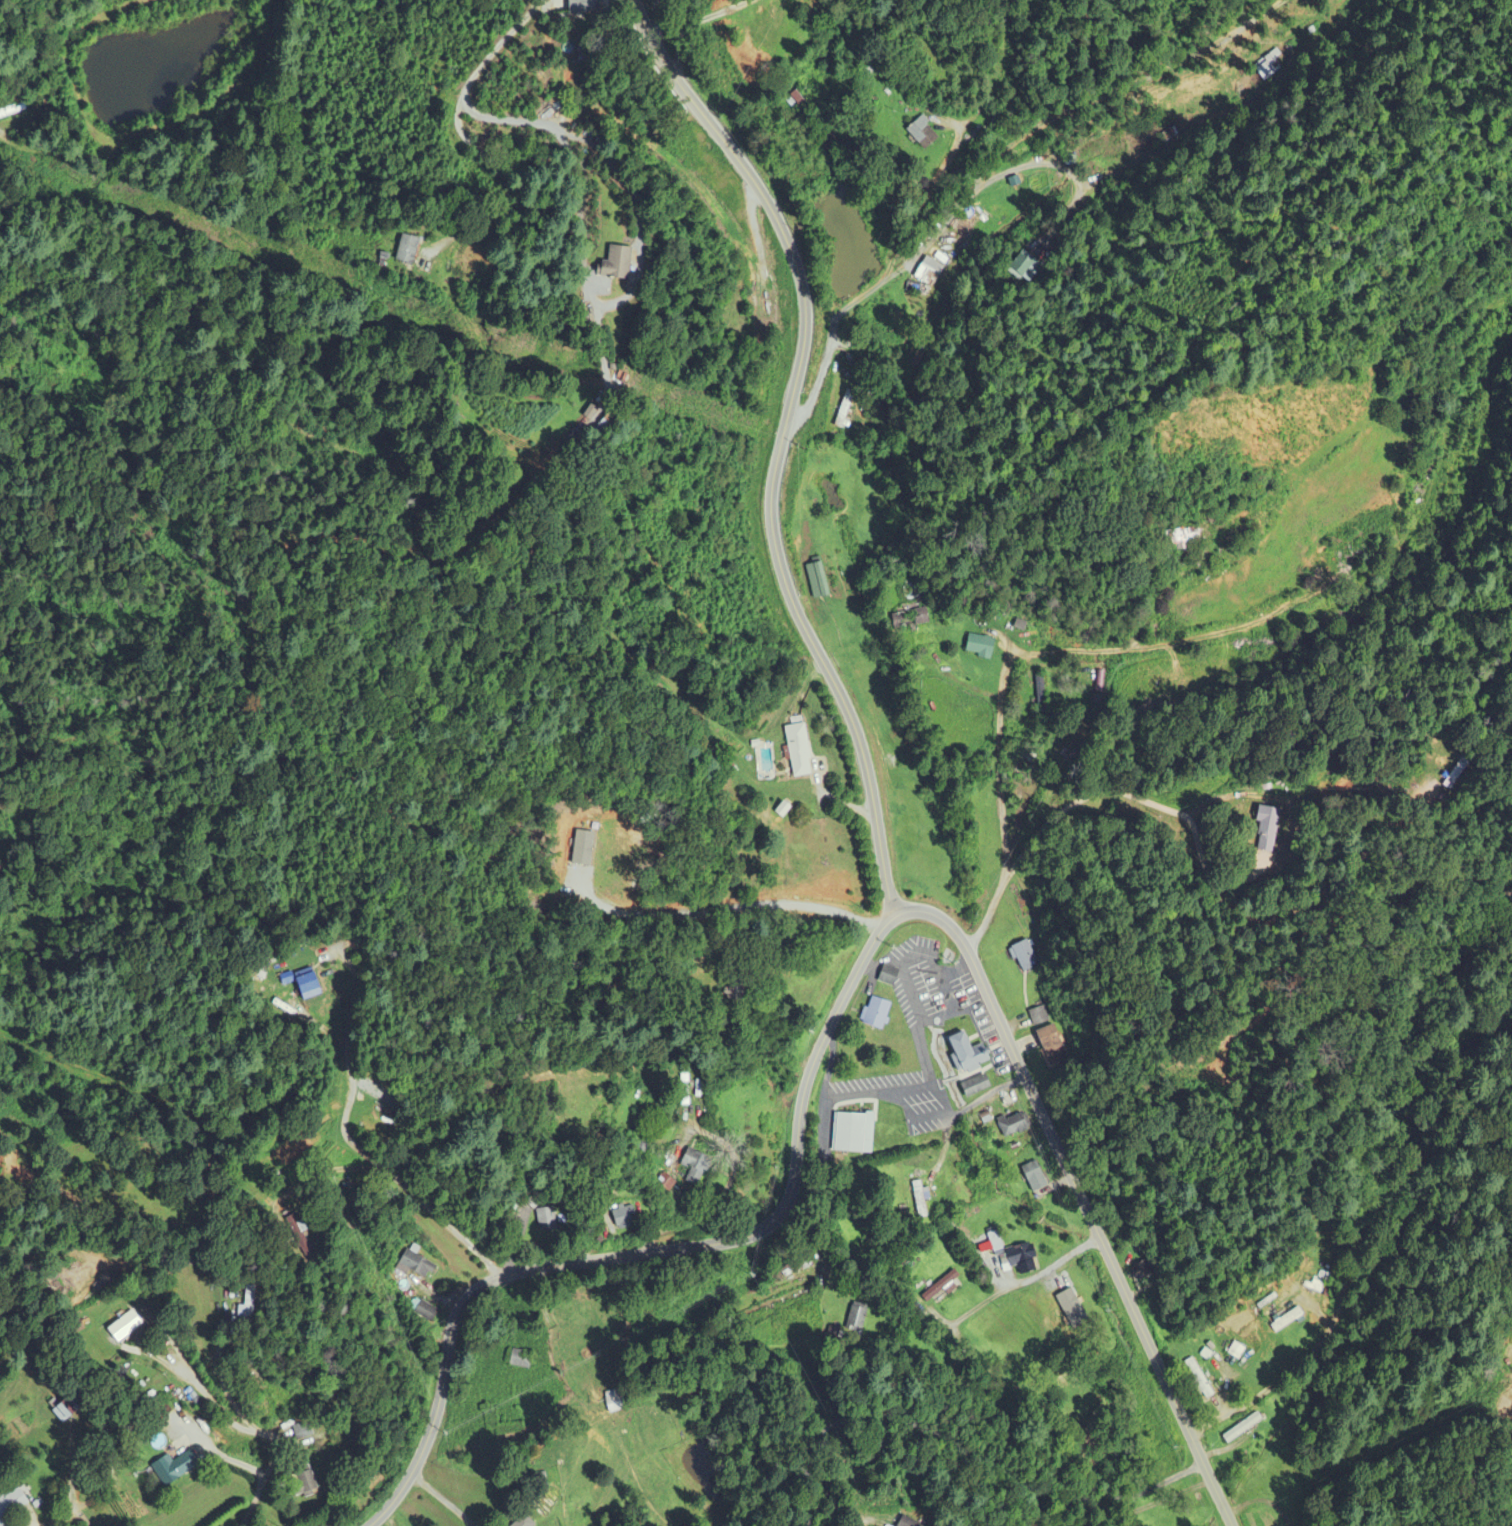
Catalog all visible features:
building: (586, 6)
road: (652, 16)
building: (806, 94)
building: (13, 111)
road: (499, 120)
building: (927, 133)
building: (410, 249)
building: (619, 263)
building: (917, 288)
road: (834, 323)
building: (844, 409)
building: (613, 422)
road: (780, 446)
building: (1185, 538)
building: (818, 580)
building: (910, 619)
building: (981, 646)
building: (1040, 694)
building: (799, 750)
road: (1000, 759)
building: (1463, 773)
road: (1078, 802)
road: (1463, 813)
building: (1268, 830)
building: (1022, 956)
building: (890, 977)
building: (740, 987)
building: (313, 988)
building: (878, 1014)
building: (1038, 1016)
building: (1052, 1045)
building: (969, 1053)
building: (977, 1086)
building: (849, 1119)
building: (1014, 1125)
road: (352, 1142)
road: (798, 1144)
building: (699, 1168)
building: (1036, 1177)
road: (1375, 1178)
building: (667, 1186)
building: (921, 1200)
building: (626, 1217)
building: (548, 1221)
building: (300, 1236)
building: (1024, 1260)
building: (416, 1266)
road: (1033, 1282)
building: (939, 1287)
building: (250, 1307)
building: (425, 1311)
building: (854, 1318)
building: (1064, 1324)
building: (127, 1329)
building: (77, 1330)
building: (1237, 1354)
building: (521, 1360)
building: (1288, 1365)
road: (219, 1379)
building: (1202, 1379)
road: (1164, 1382)
building: (615, 1401)
building: (508, 1417)
building: (1243, 1429)
building: (174, 1430)
building: (305, 1430)
road: (954, 1442)
road: (269, 1466)
building: (177, 1467)
building: (306, 1481)
road: (442, 1499)
building: (12, 1504)
building: (524, 1521)
building: (911, 1521)
road: (1511, 1524)

